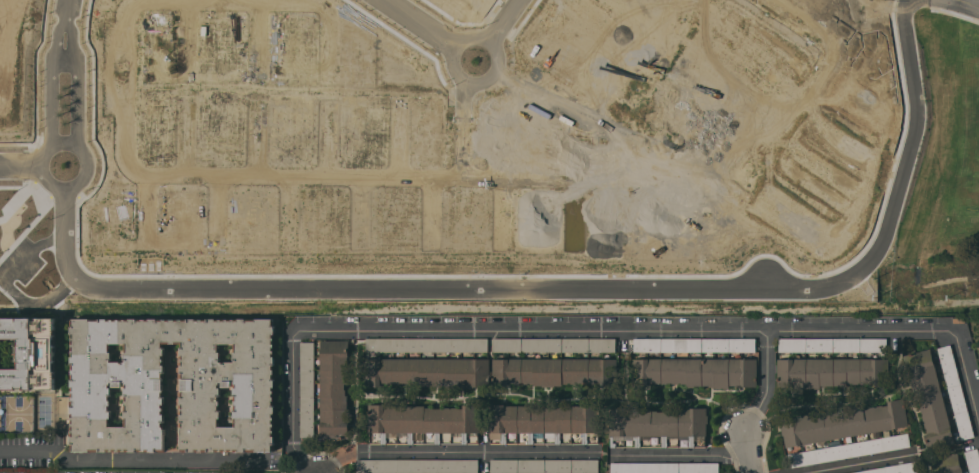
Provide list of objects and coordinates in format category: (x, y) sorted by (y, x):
road: (965, 0)
road: (967, 0)
road: (973, 3)
road: (66, 8)
road: (65, 17)
road: (504, 21)
road: (420, 22)
road: (64, 62)
road: (483, 75)
park: (964, 144)
road: (19, 162)
road: (83, 169)
road: (561, 286)
road: (455, 328)
road: (905, 328)
building: (428, 344)
building: (554, 344)
building: (695, 345)
building: (833, 345)
building: (31, 353)
building: (427, 371)
building: (554, 371)
building: (695, 372)
building: (831, 372)
road: (766, 383)
building: (256, 385)
building: (334, 389)
building: (307, 390)
building: (956, 392)
building: (929, 398)
building: (423, 424)
building: (544, 424)
building: (658, 427)
building: (845, 431)
road: (321, 446)
road: (454, 451)
road: (682, 453)
road: (748, 453)
road: (134, 458)
building: (973, 460)
road: (857, 463)
building: (947, 464)
building: (416, 465)
building: (544, 466)
building: (665, 467)
building: (894, 469)

